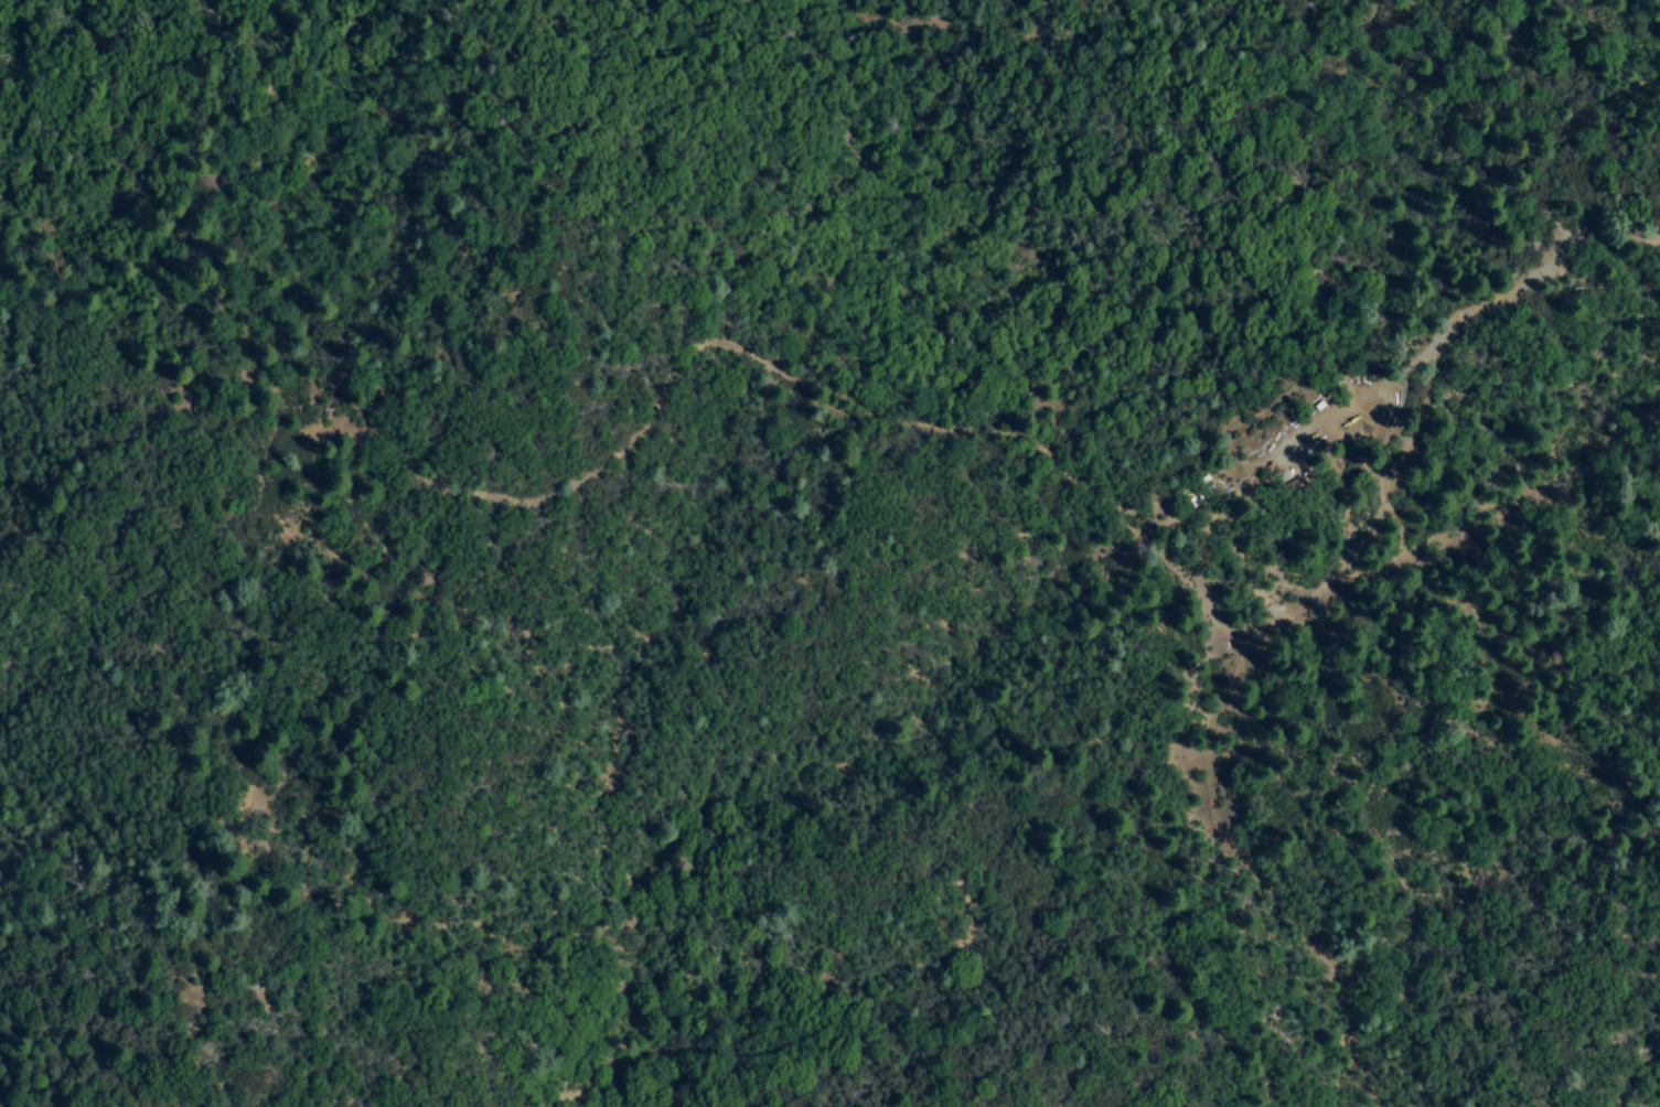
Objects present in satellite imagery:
road: (1509, 283)

